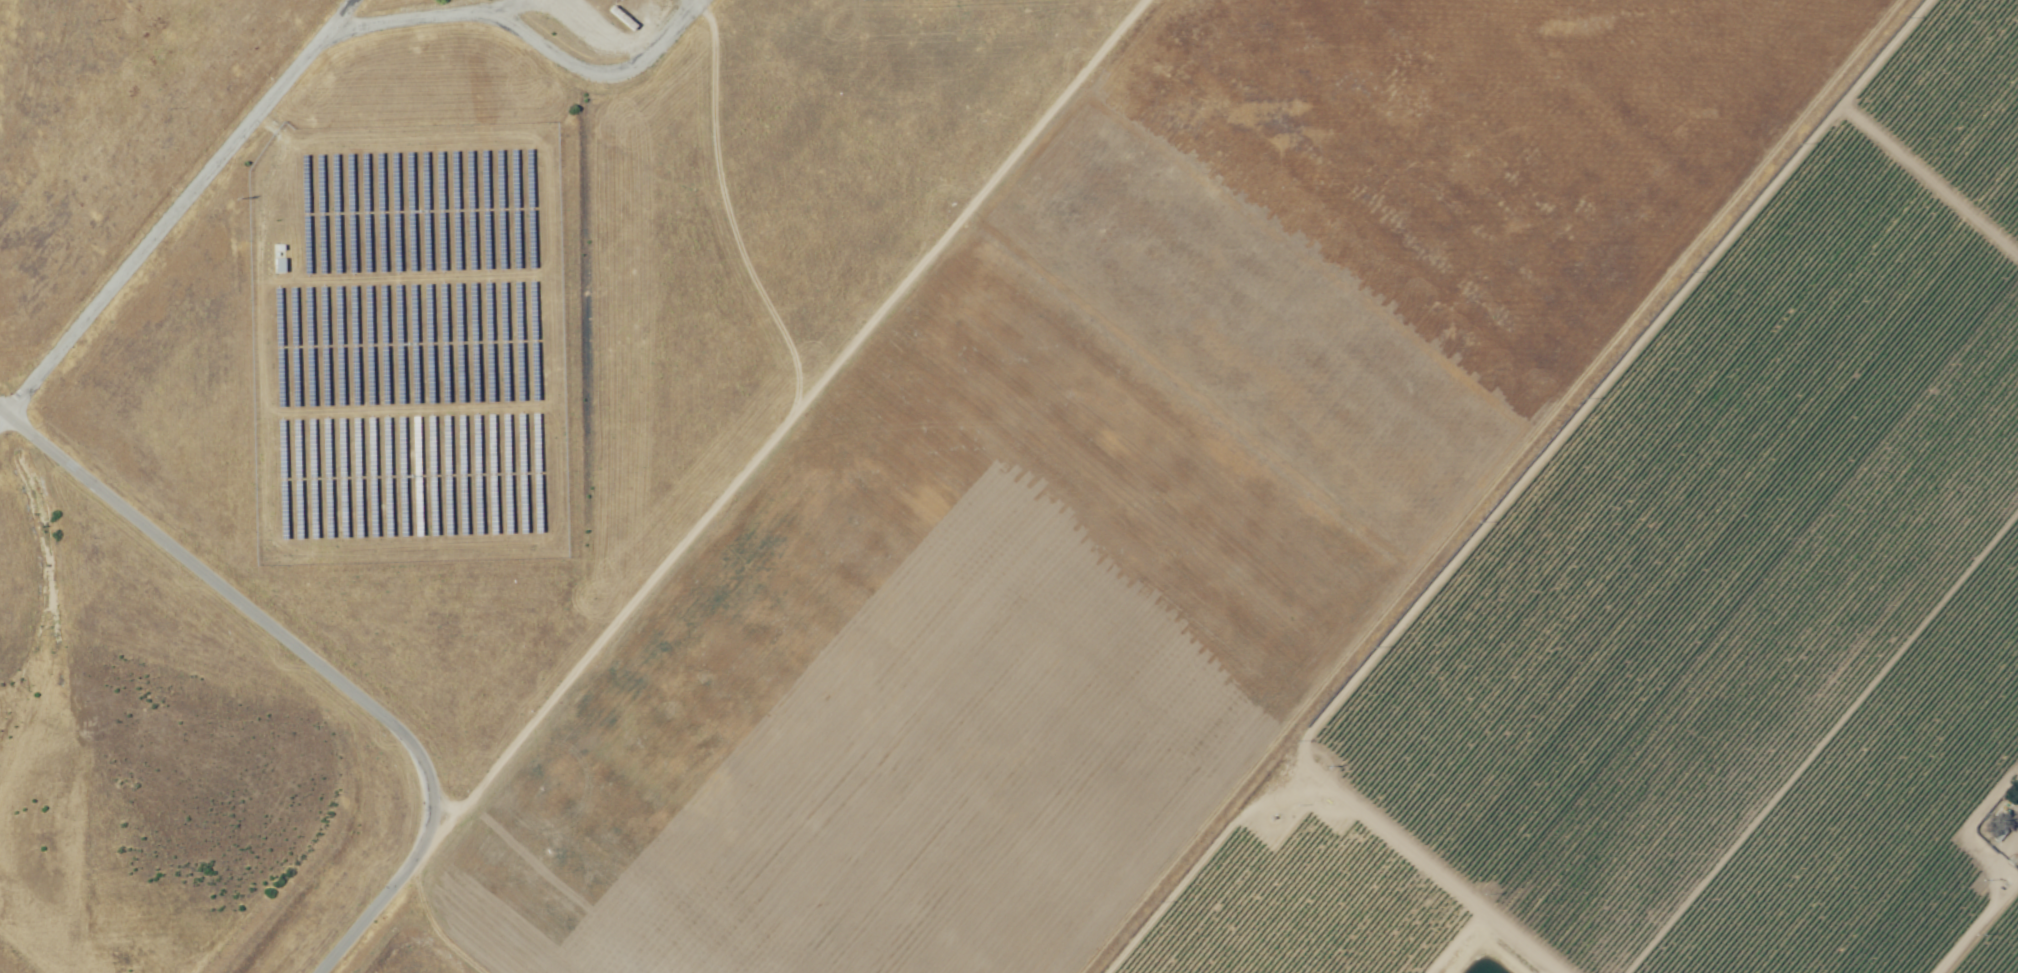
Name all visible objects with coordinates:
building: (618, 0)
road: (1930, 177)
road: (177, 211)
road: (1609, 377)
road: (729, 486)
road: (1482, 486)
road: (256, 617)
crop: (1710, 619)
helipad: (1098, 690)
road: (1822, 741)
road: (1963, 829)
road: (1200, 864)
road: (1427, 864)
road: (1978, 928)
road: (1468, 944)

